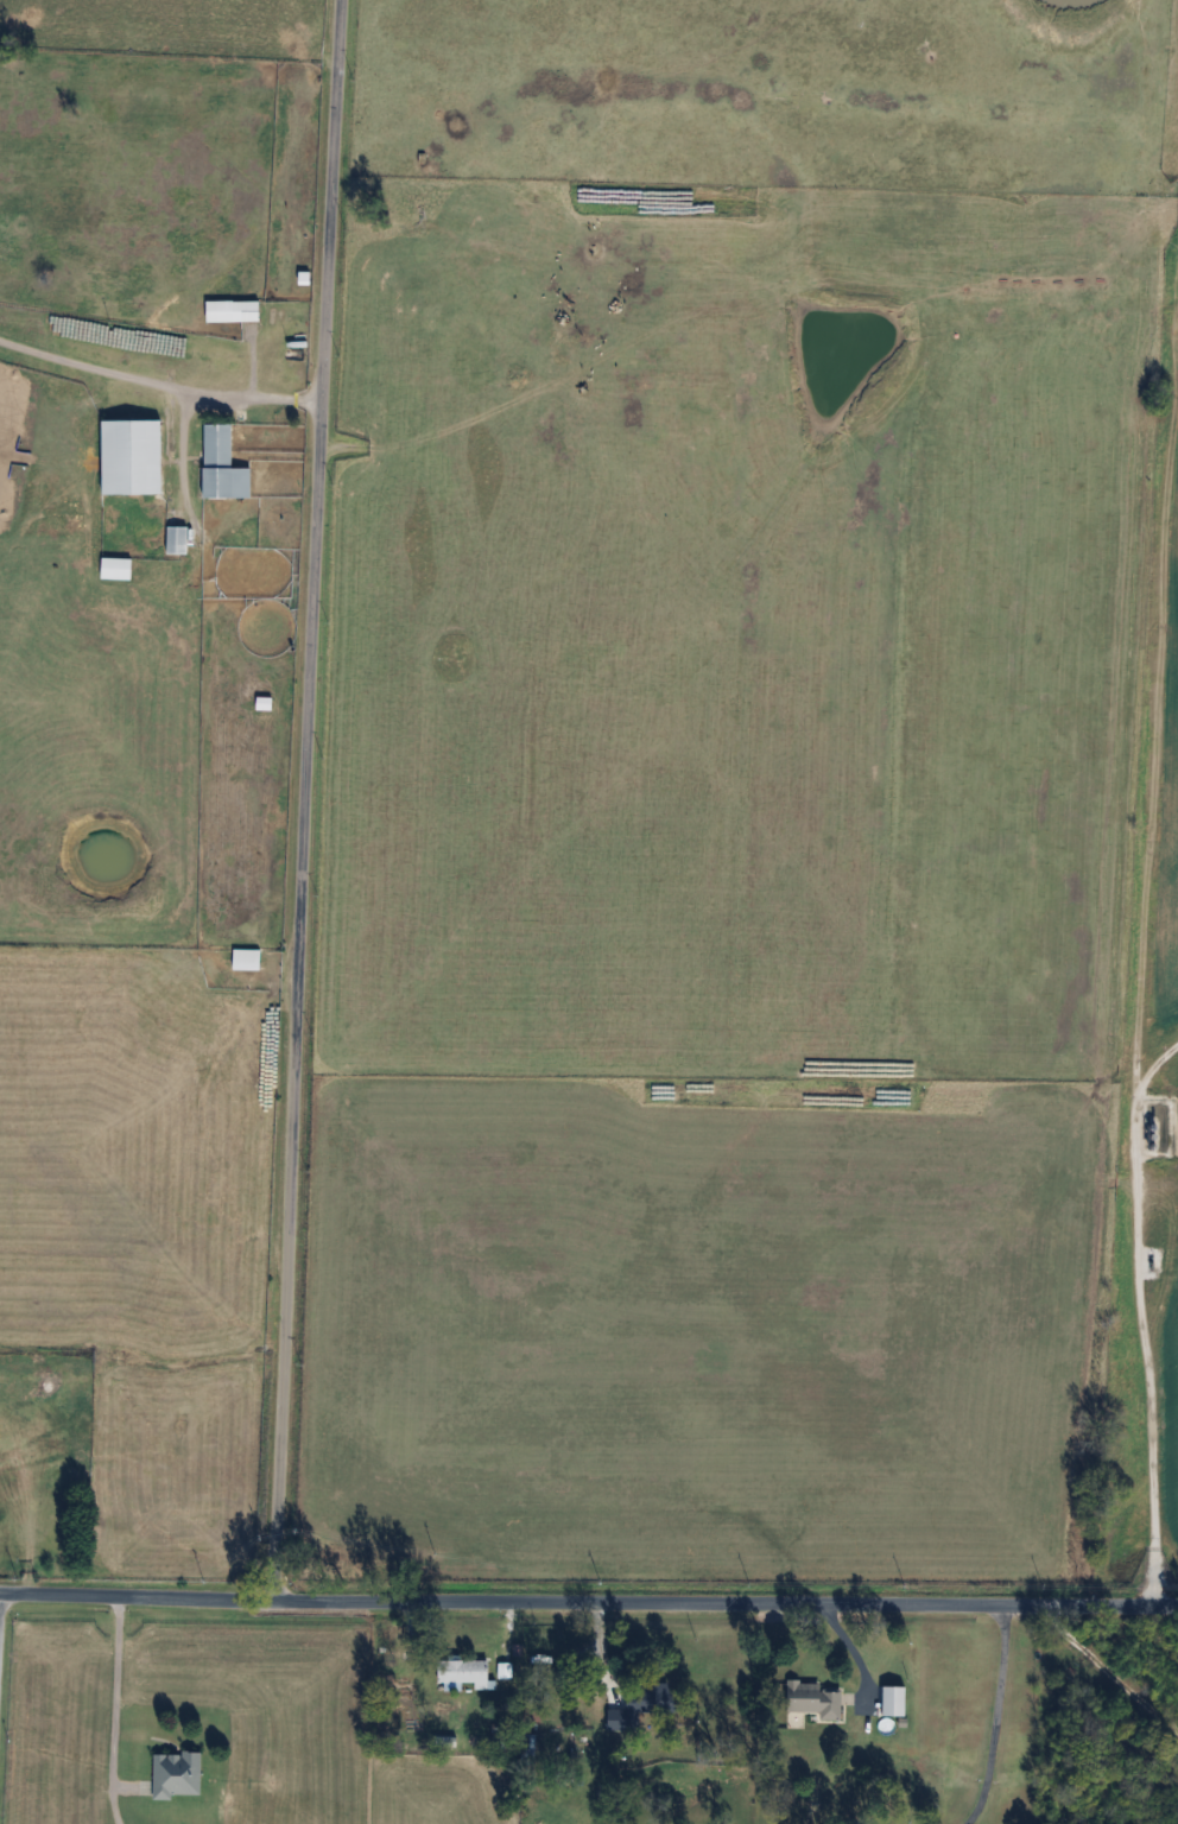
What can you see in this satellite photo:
building: (234, 310)
road: (159, 381)
building: (133, 456)
building: (223, 464)
building: (178, 539)
building: (116, 568)
road: (306, 800)
building: (248, 958)
road: (1147, 1317)
road: (588, 1603)
road: (1110, 1667)
building: (464, 1670)
building: (505, 1670)
building: (398, 1685)
building: (653, 1697)
building: (818, 1699)
building: (893, 1699)
road: (118, 1709)
building: (534, 1710)
road: (999, 1716)
building: (179, 1771)

